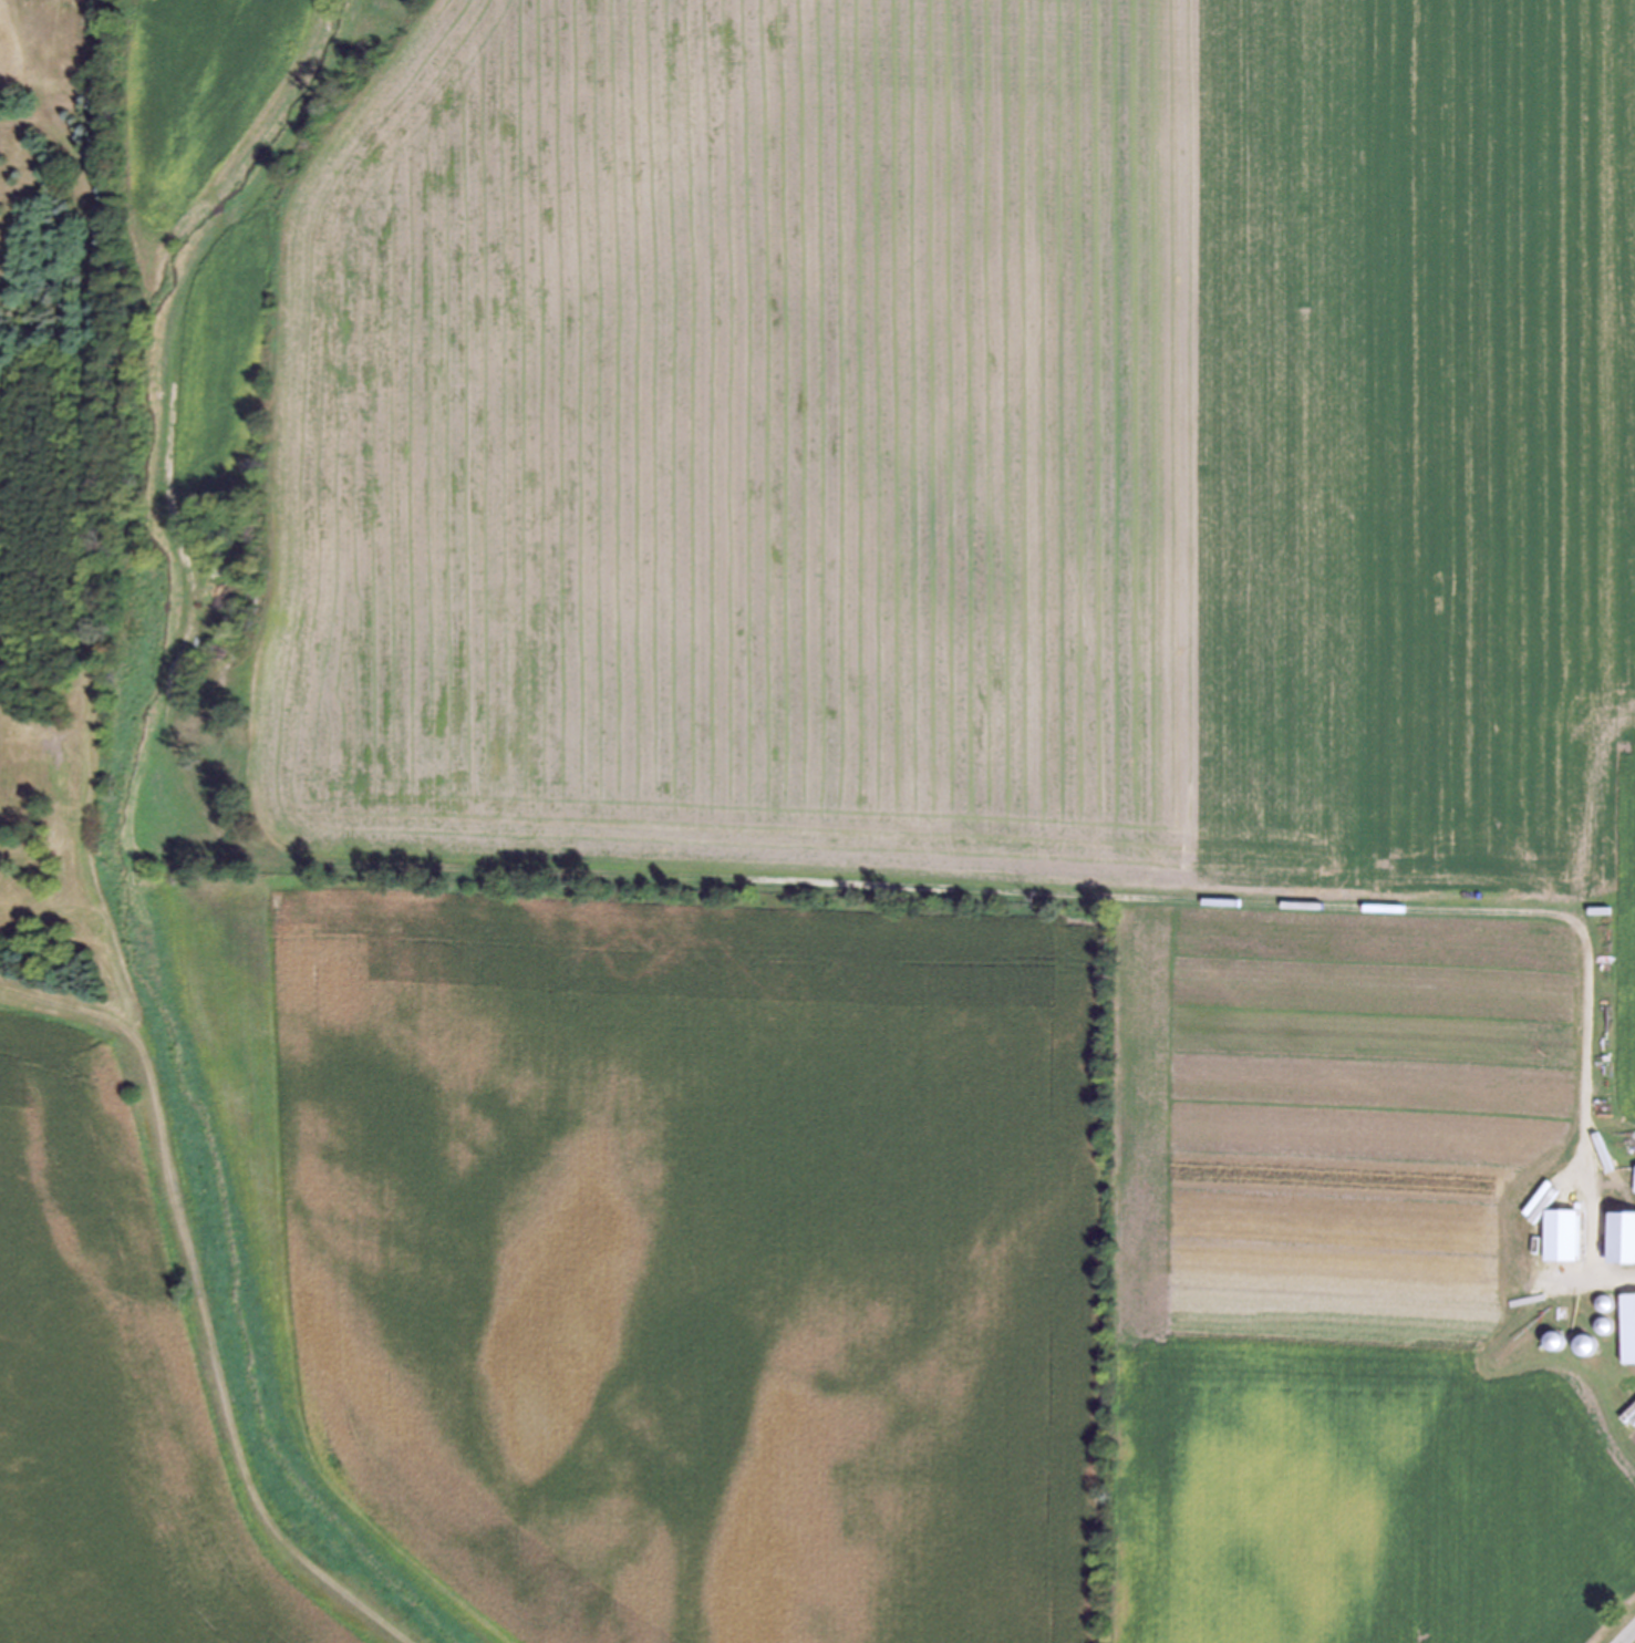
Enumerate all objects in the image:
building: (1623, 1234)
building: (1628, 1326)
building: (1554, 1339)
building: (1586, 1343)
road: (1628, 1636)

